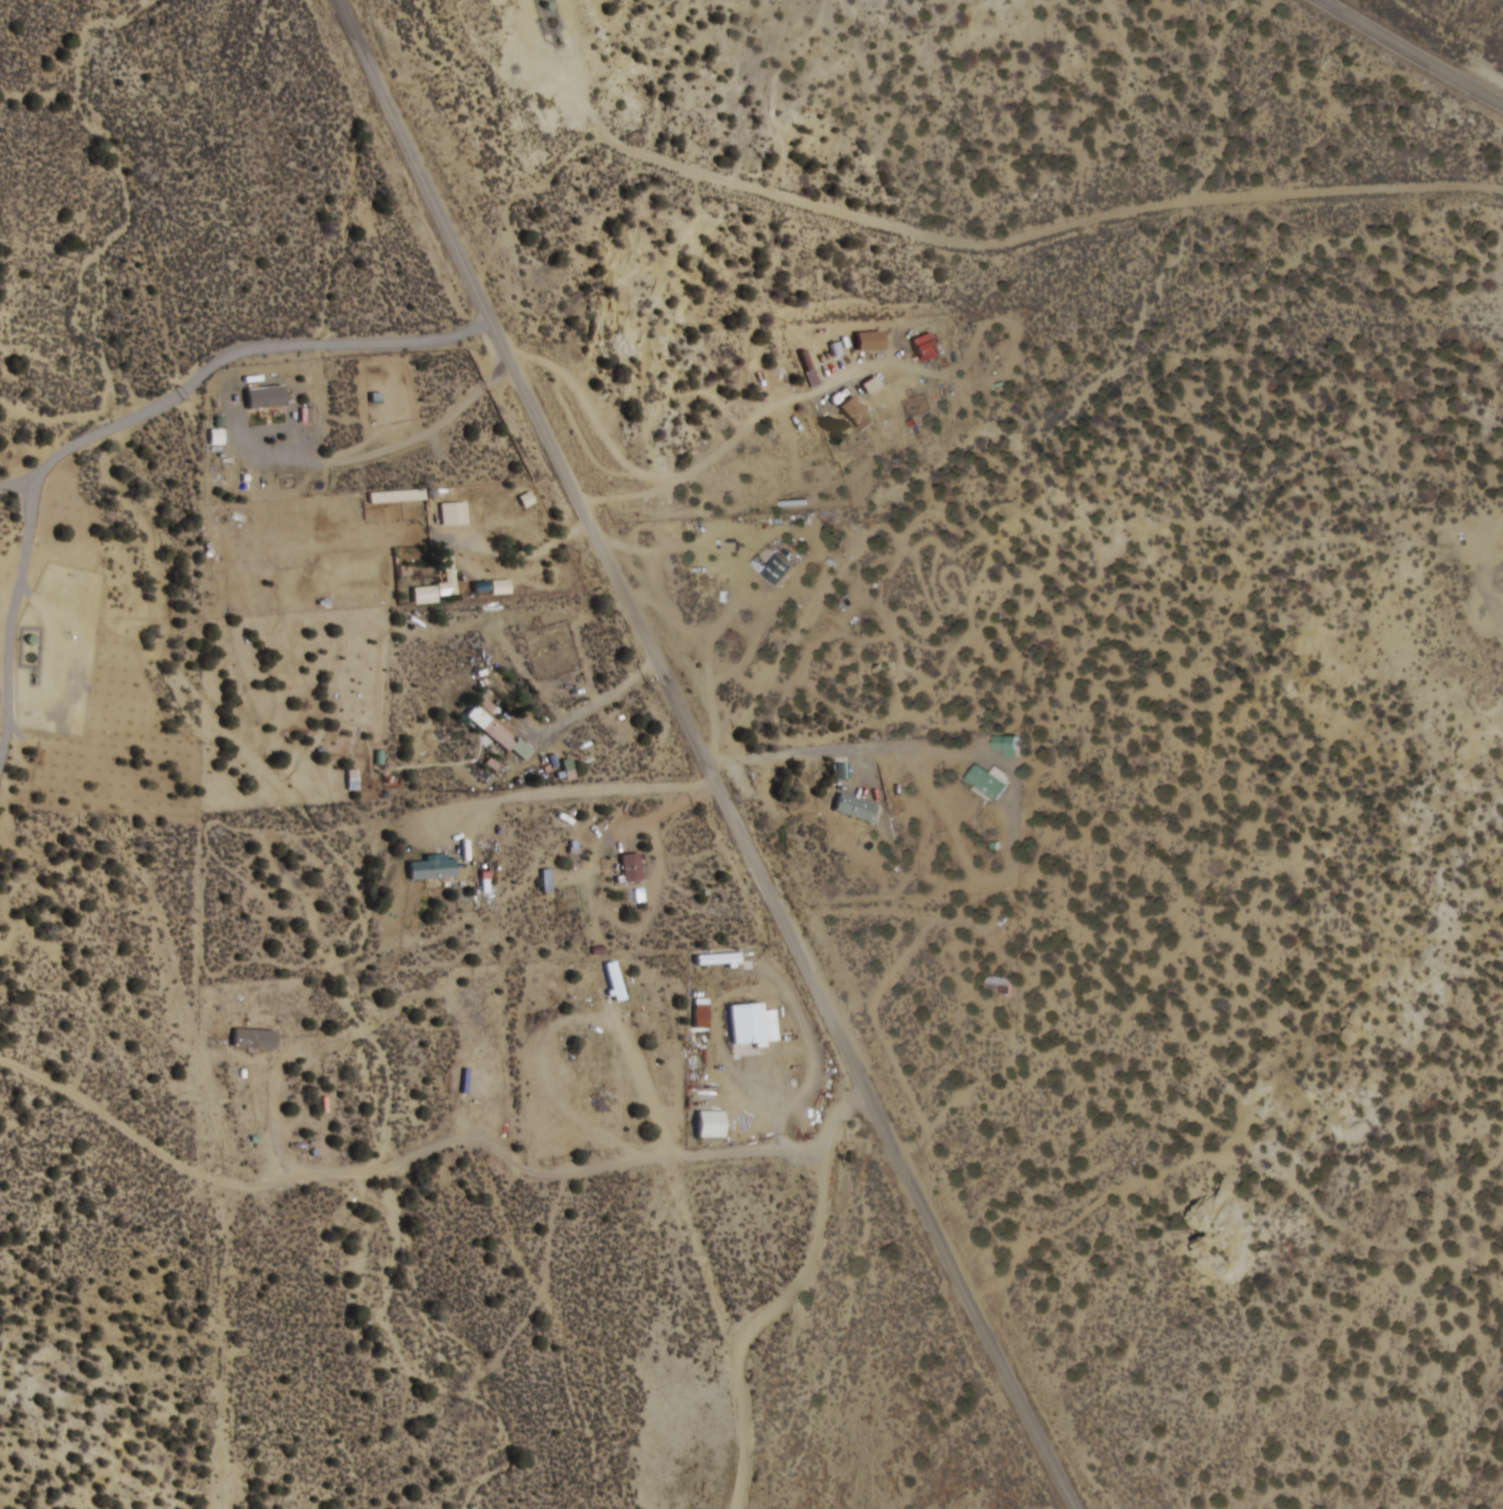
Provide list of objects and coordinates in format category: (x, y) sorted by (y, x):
road: (1419, 49)
road: (972, 239)
building: (871, 341)
road: (236, 344)
building: (859, 415)
building: (454, 513)
road: (1488, 565)
building: (783, 570)
building: (465, 573)
building: (497, 728)
building: (1008, 746)
road: (710, 755)
building: (855, 809)
building: (631, 868)
building: (432, 870)
building: (546, 881)
building: (718, 960)
building: (998, 985)
building: (748, 1030)
building: (255, 1040)
building: (711, 1125)
road: (786, 1297)

